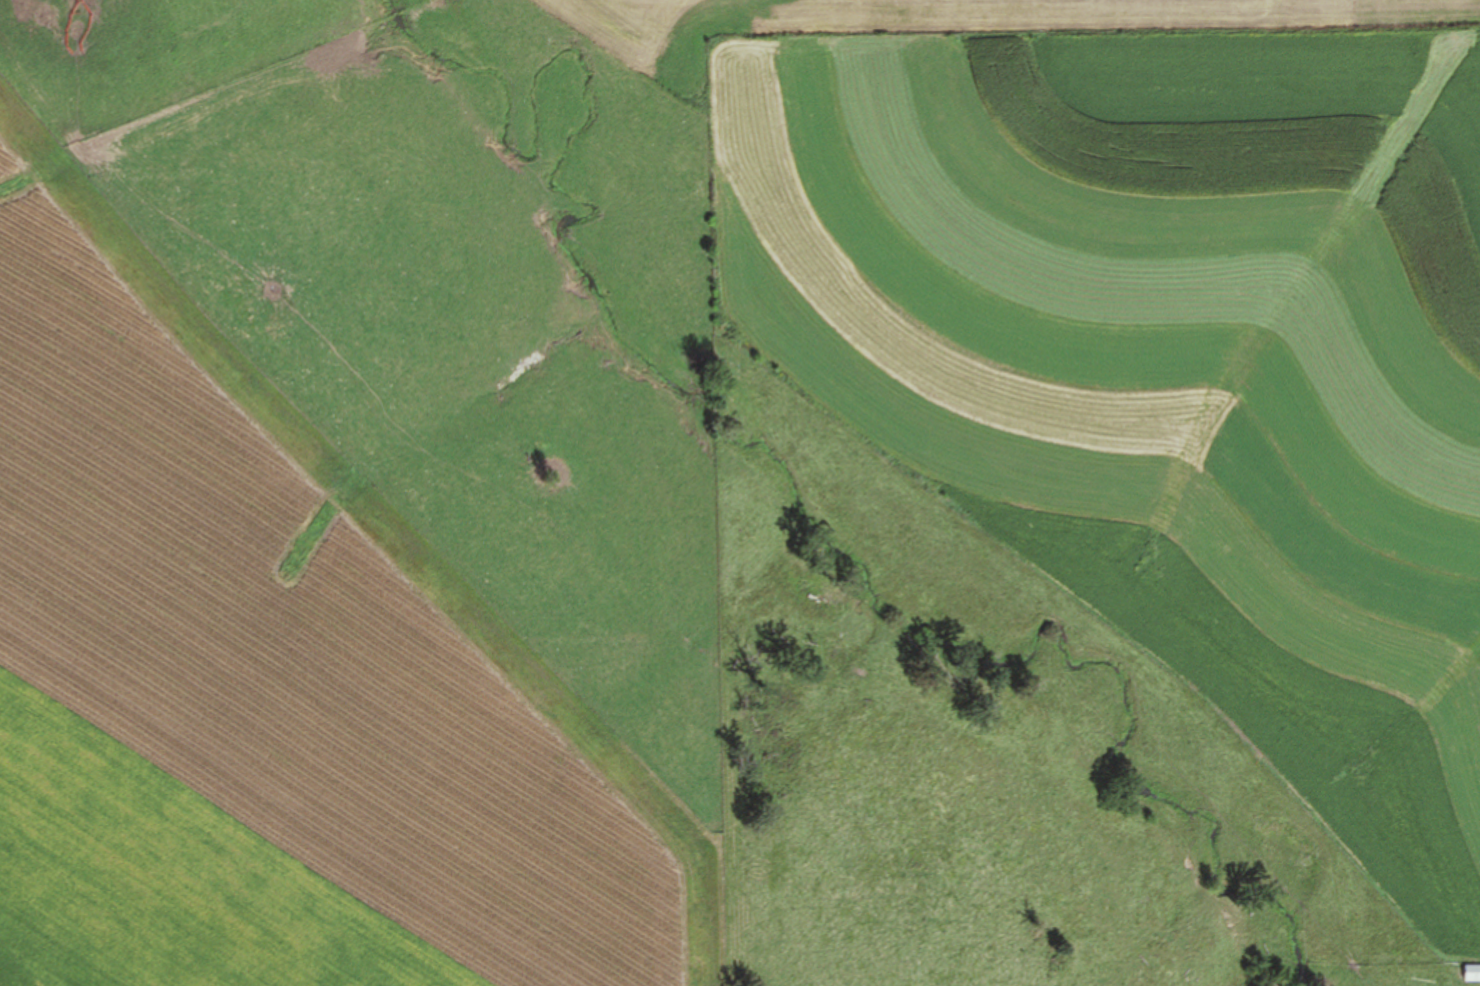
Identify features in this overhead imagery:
building: (1472, 973)

